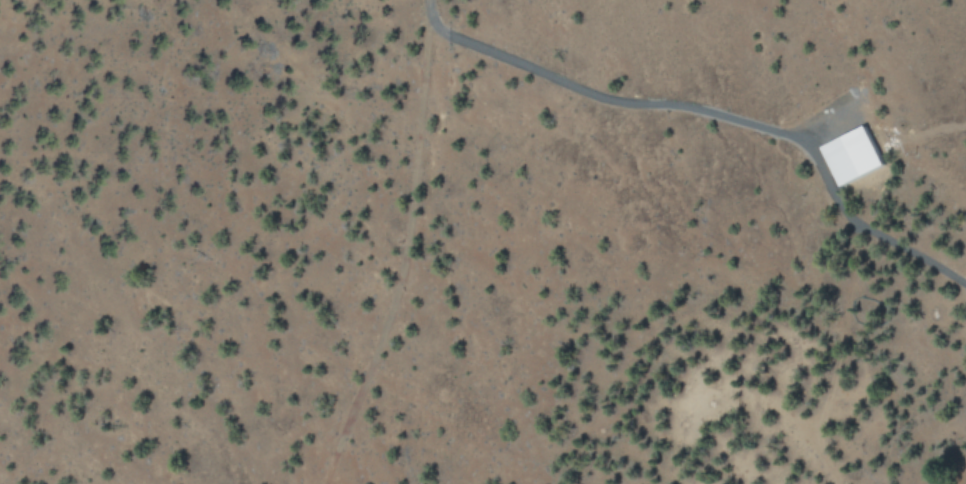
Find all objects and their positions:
building: (852, 155)

